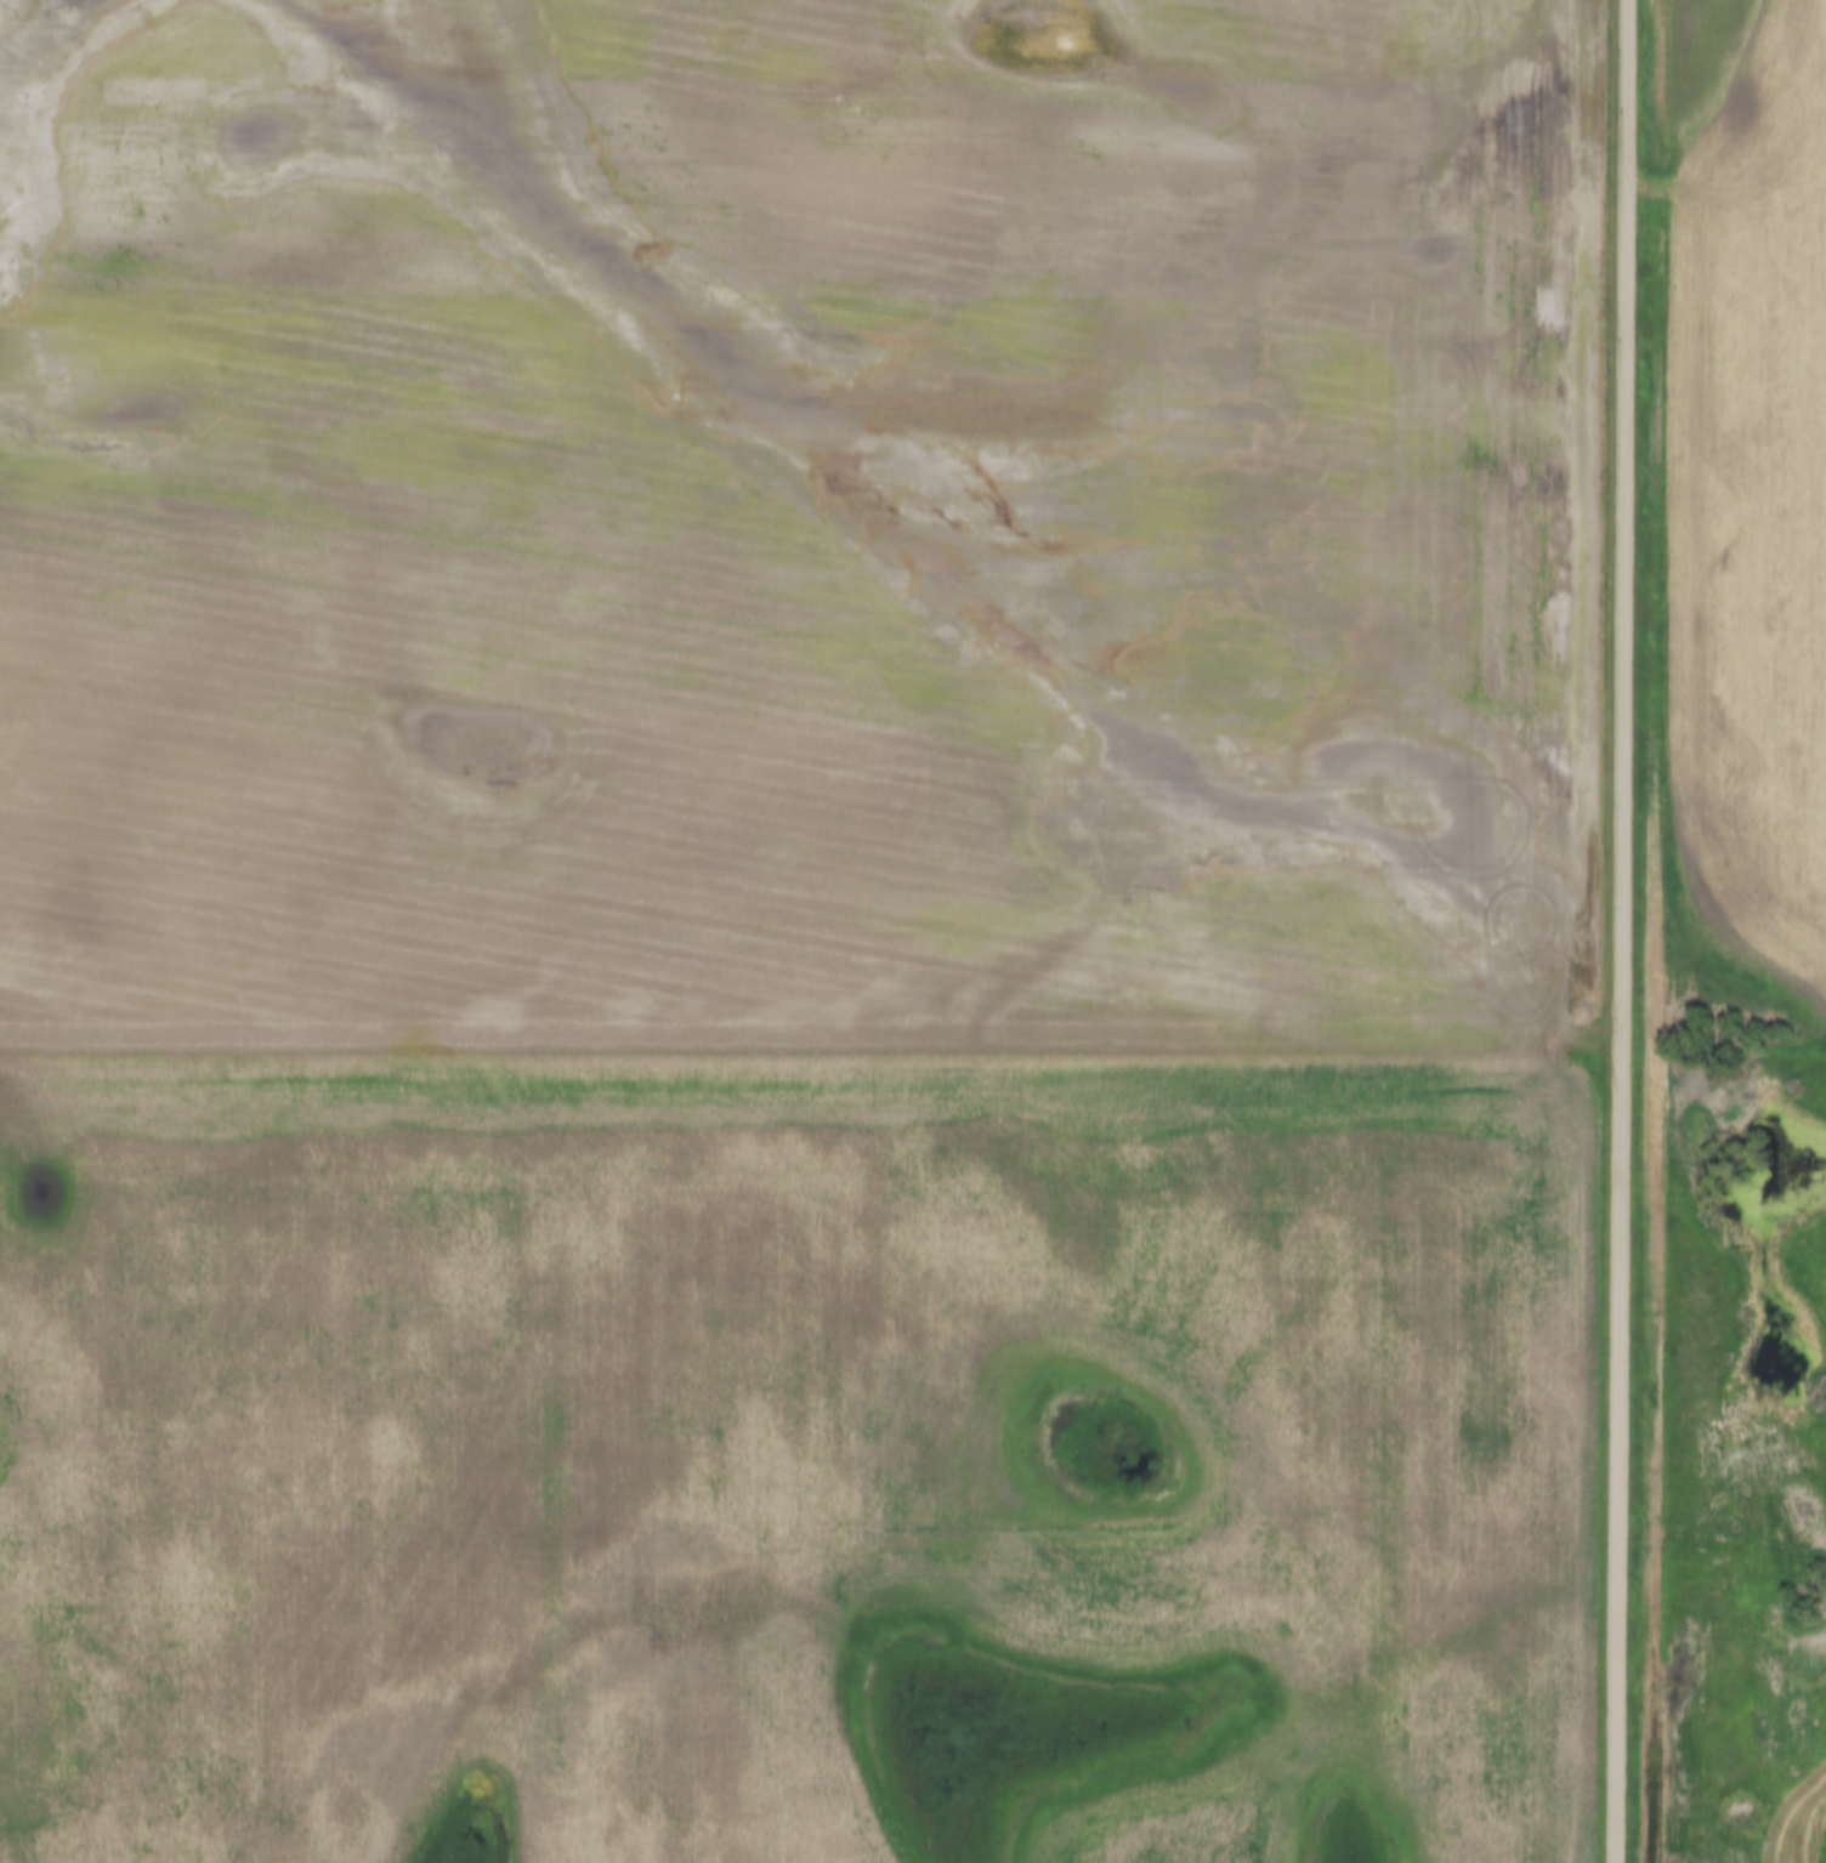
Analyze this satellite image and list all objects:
road: (1624, 931)

